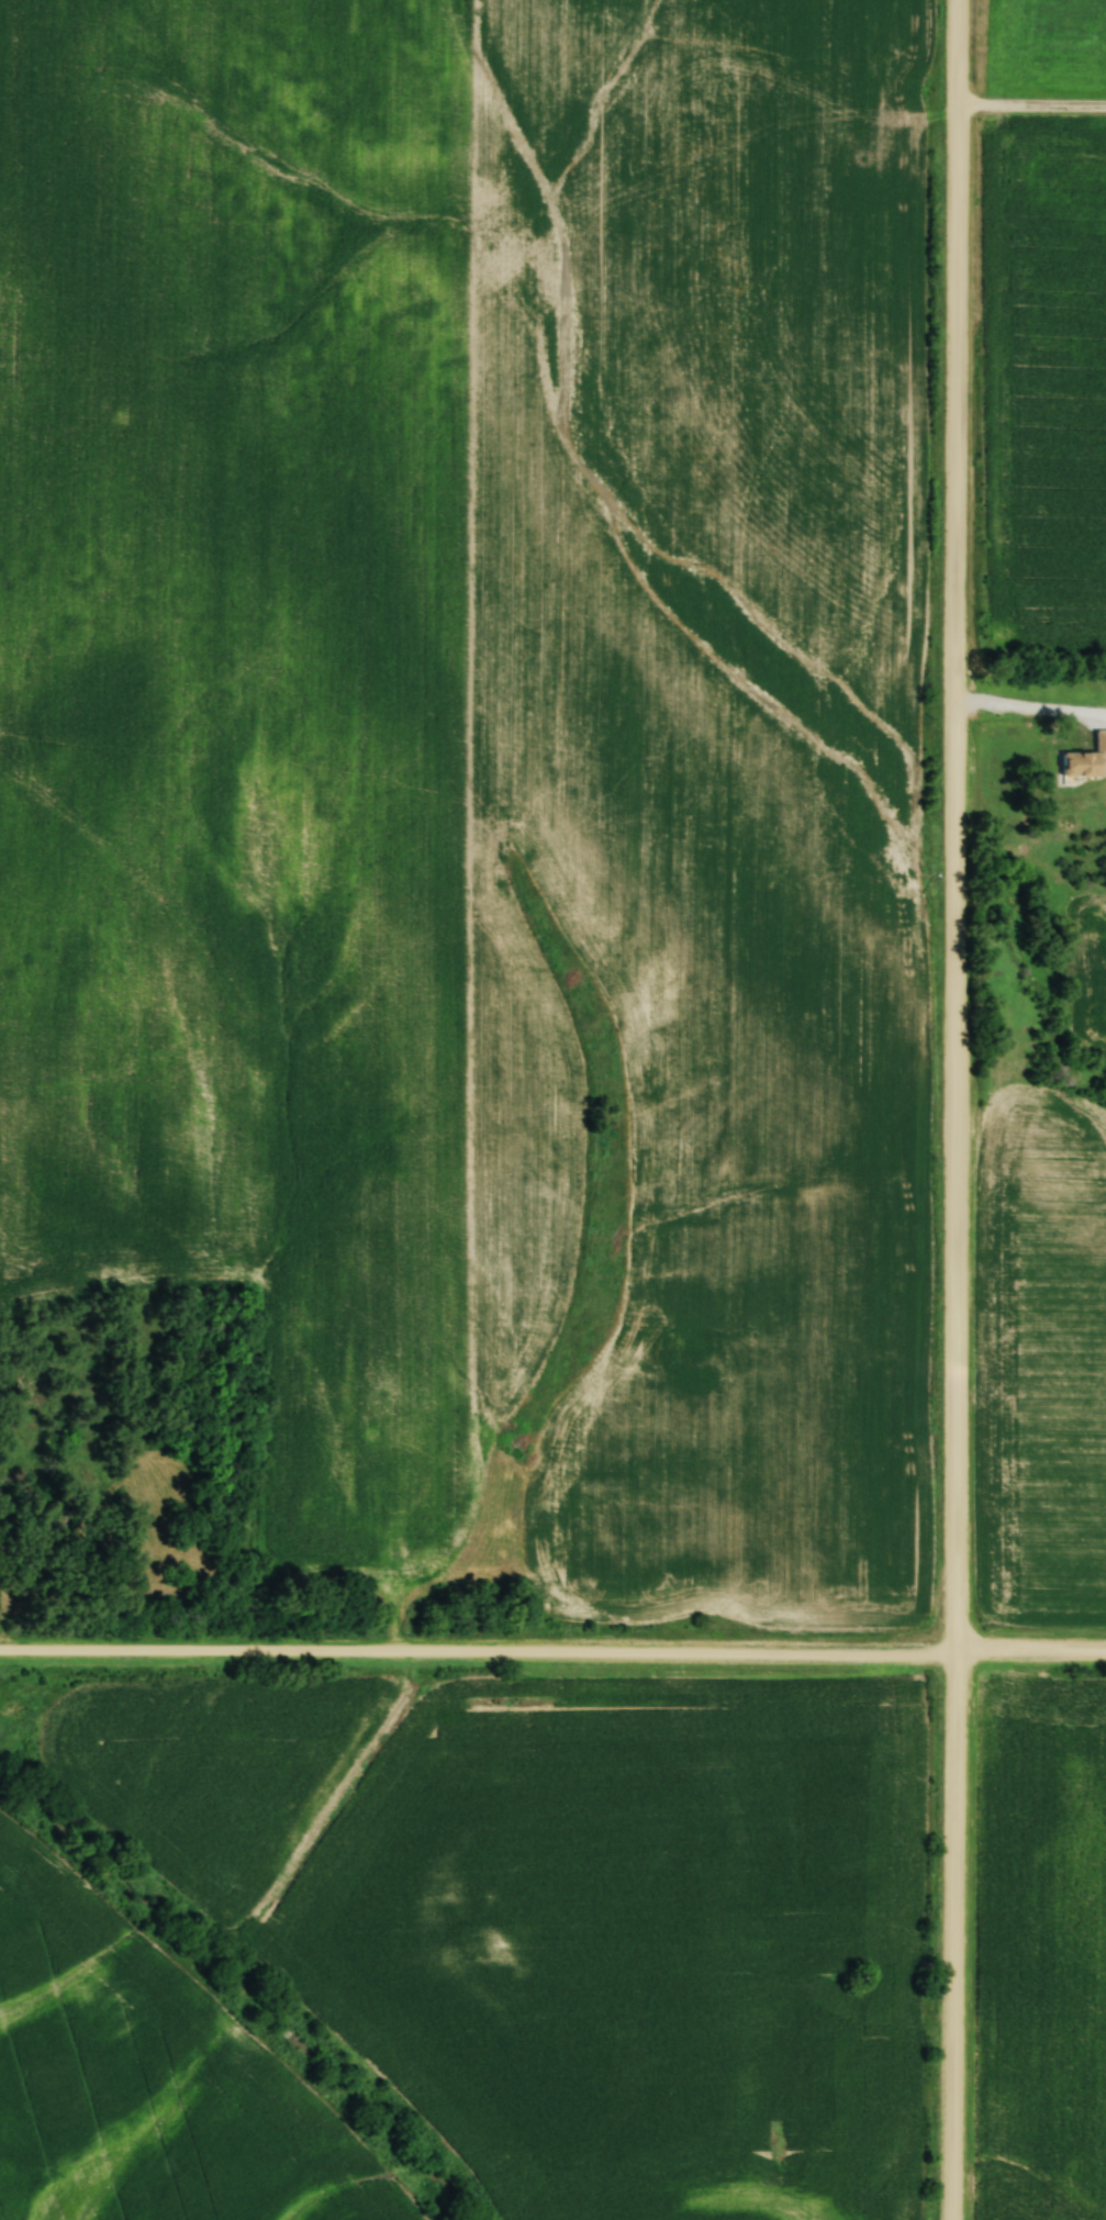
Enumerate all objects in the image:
road: (1030, 109)
road: (1029, 711)
building: (1080, 760)
road: (953, 1109)
road: (552, 1652)

